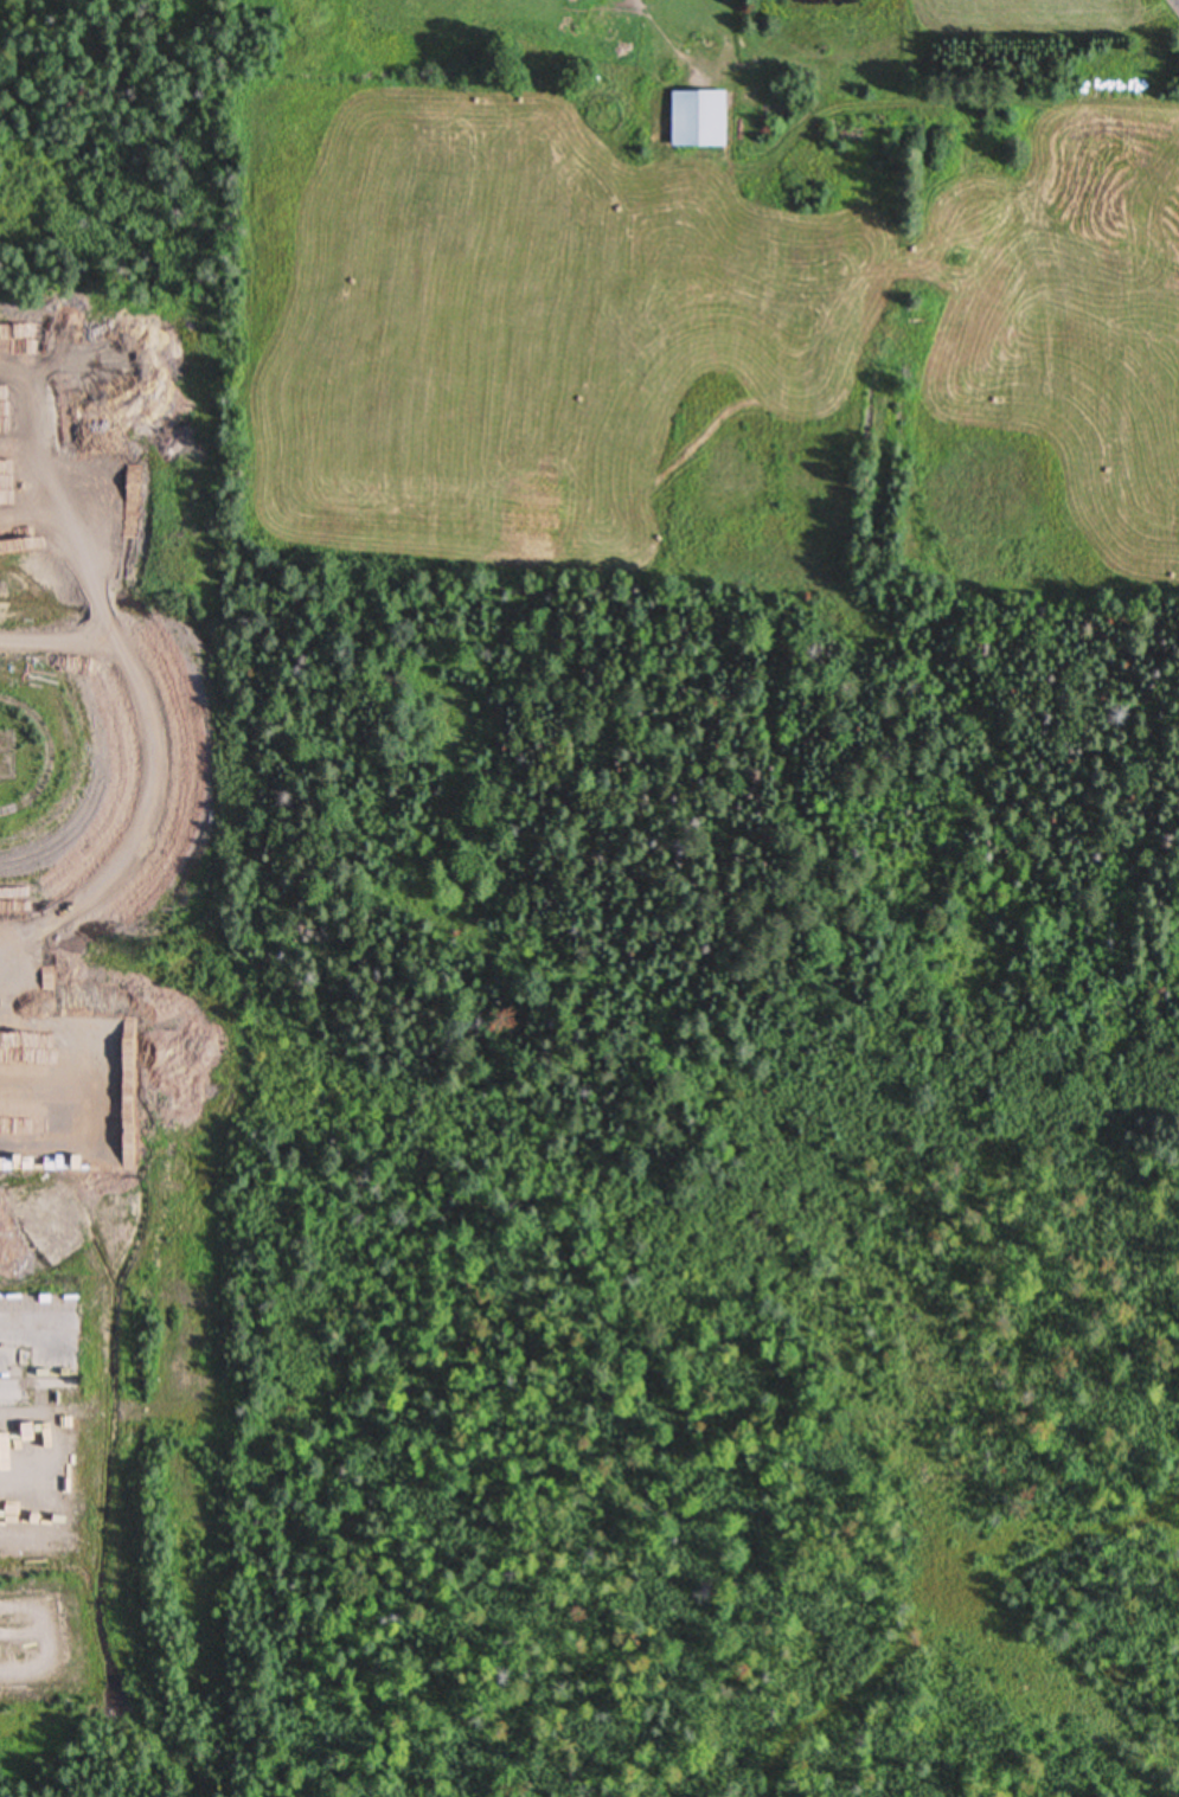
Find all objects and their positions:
building: (696, 120)
building: (21, 1448)

